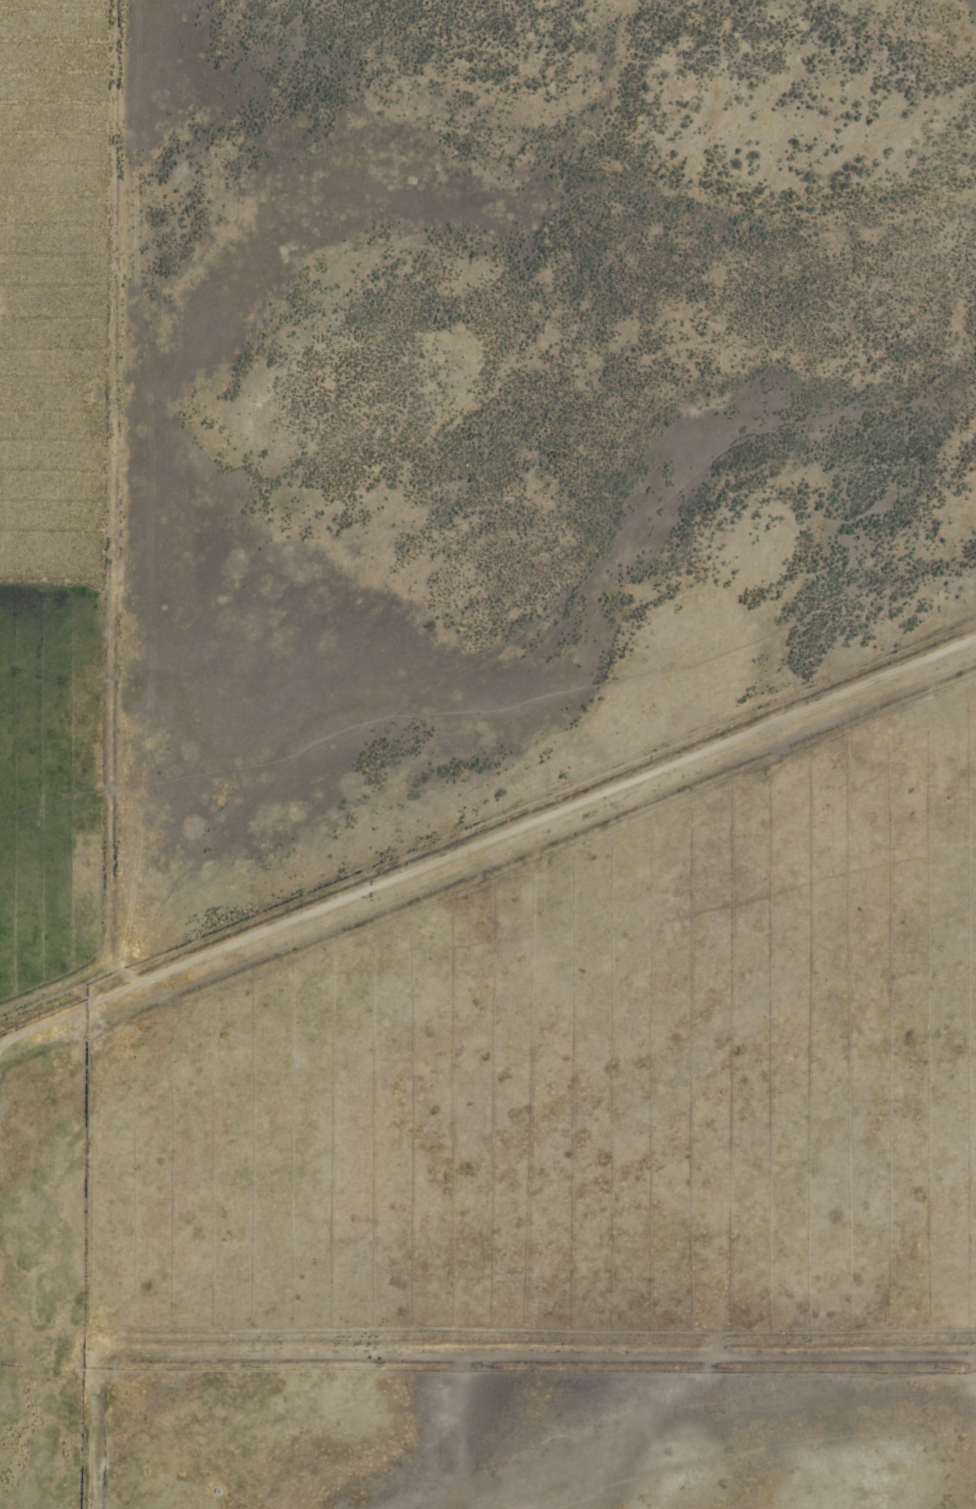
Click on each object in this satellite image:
crop: (460, 581)
crop: (61, 823)
road: (488, 835)
crop: (603, 1117)

